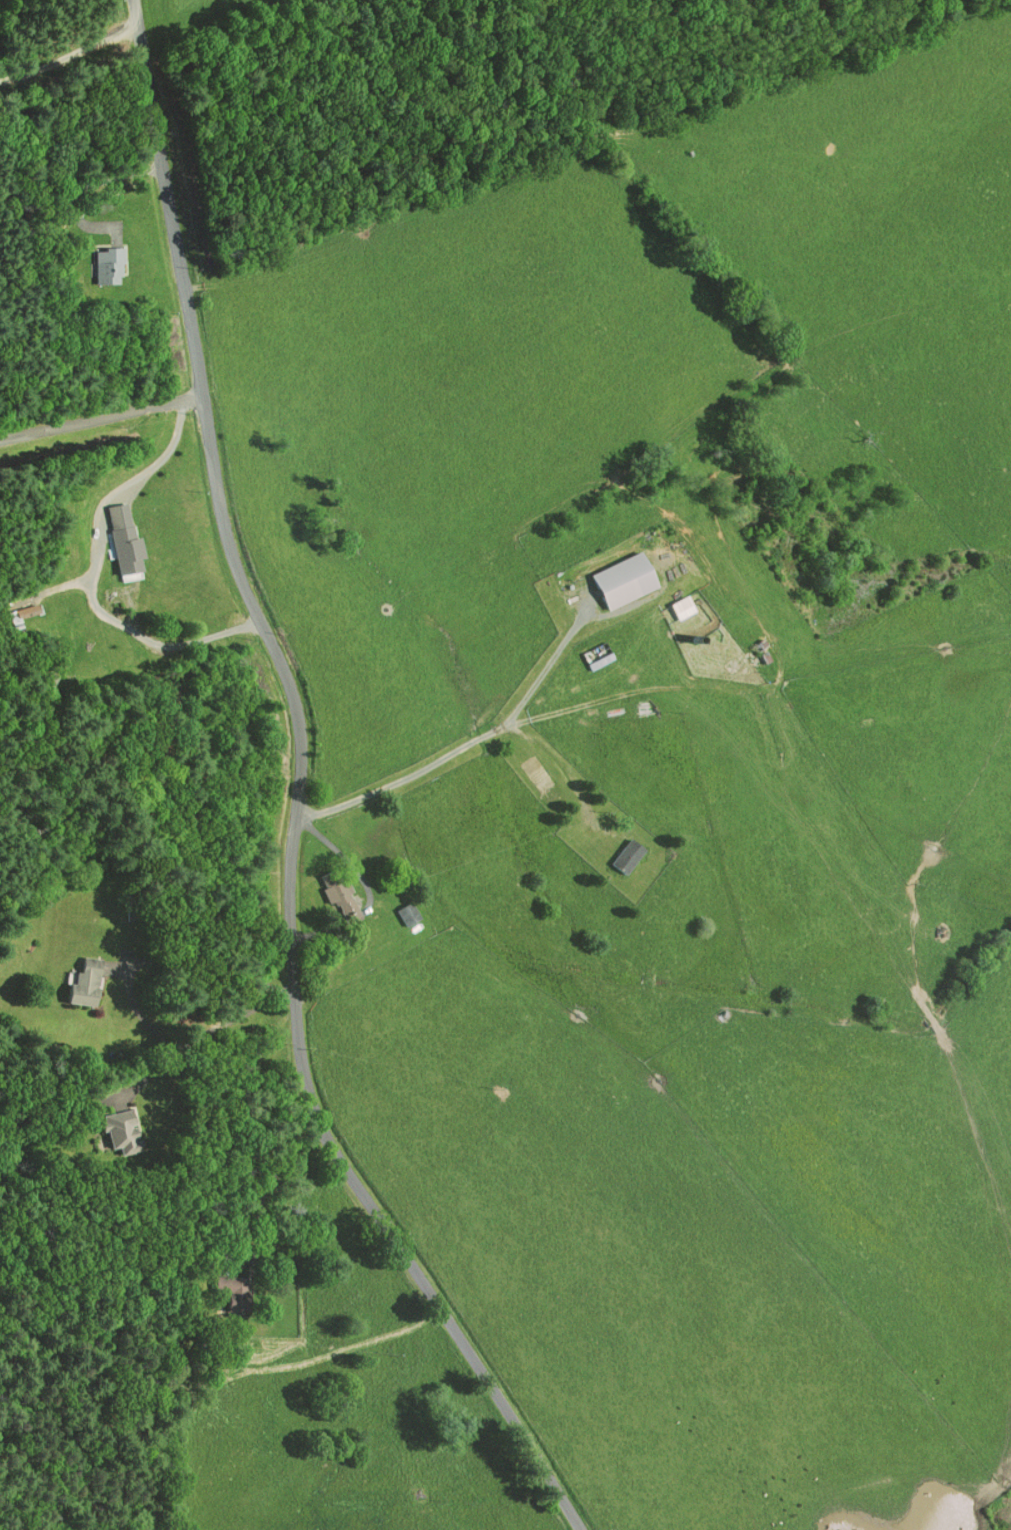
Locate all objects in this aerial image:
road: (102, 417)
road: (108, 614)
road: (192, 644)
road: (546, 670)
road: (643, 693)
road: (559, 760)
road: (300, 793)
road: (161, 958)
road: (237, 1018)
road: (266, 1185)

